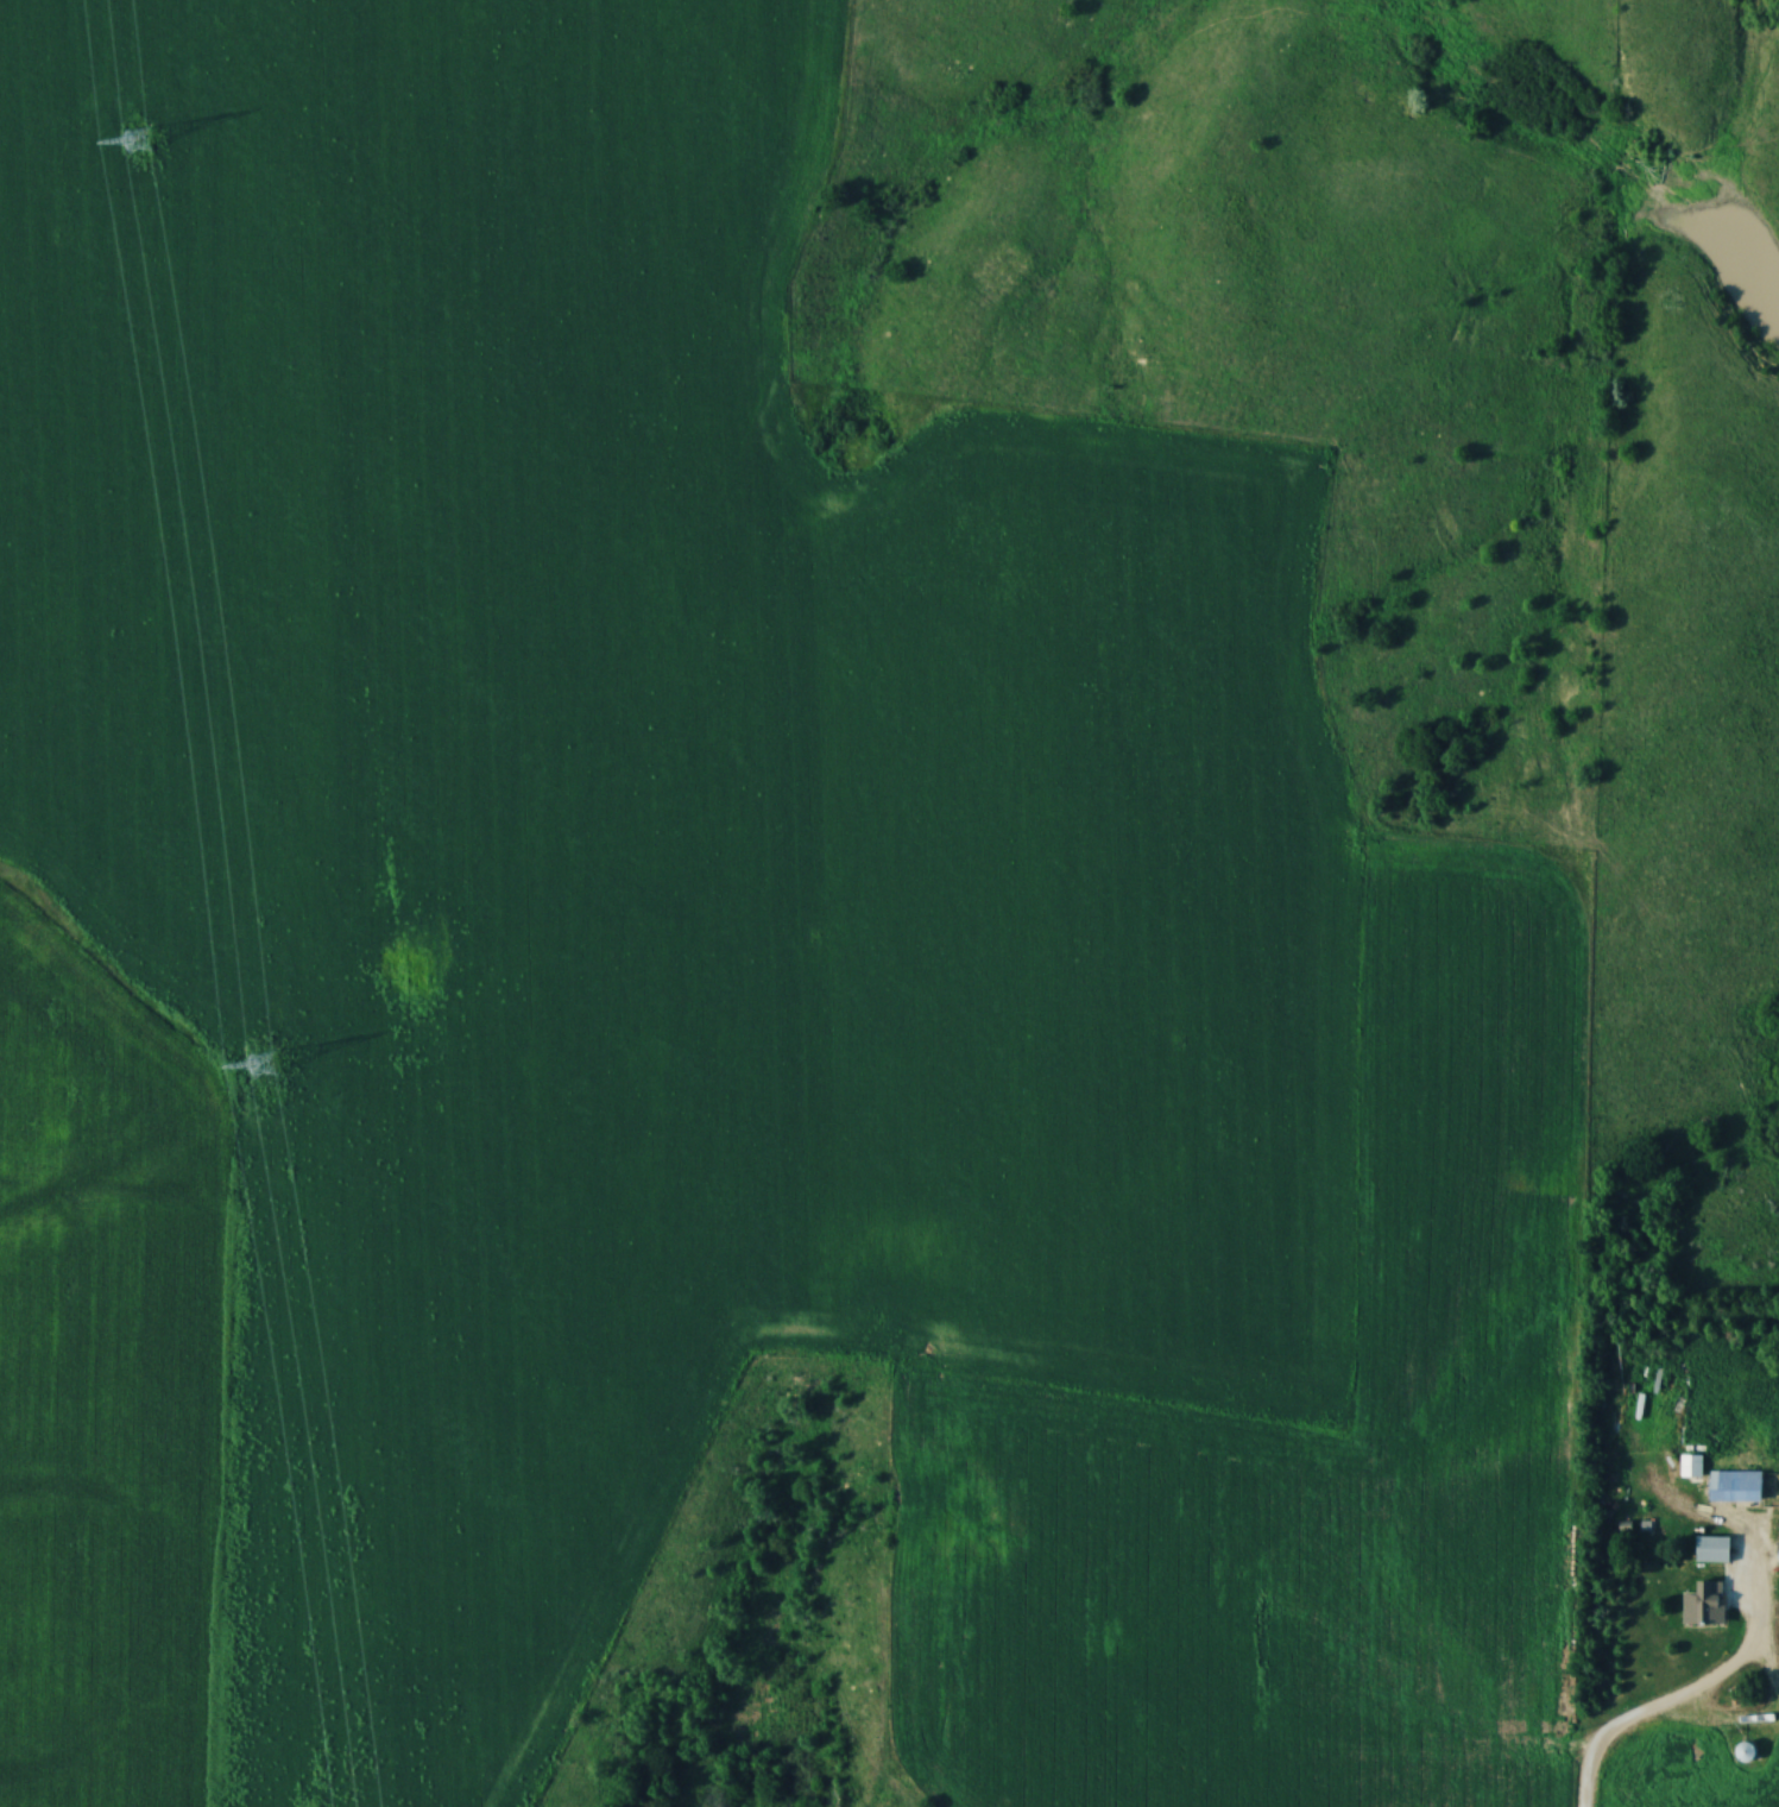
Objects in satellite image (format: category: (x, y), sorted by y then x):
power tower: (143, 141)
power tower: (259, 1060)
building: (1691, 1466)
building: (1734, 1485)
building: (1711, 1549)
building: (1703, 1604)
road: (1762, 1663)
road: (1602, 1742)

